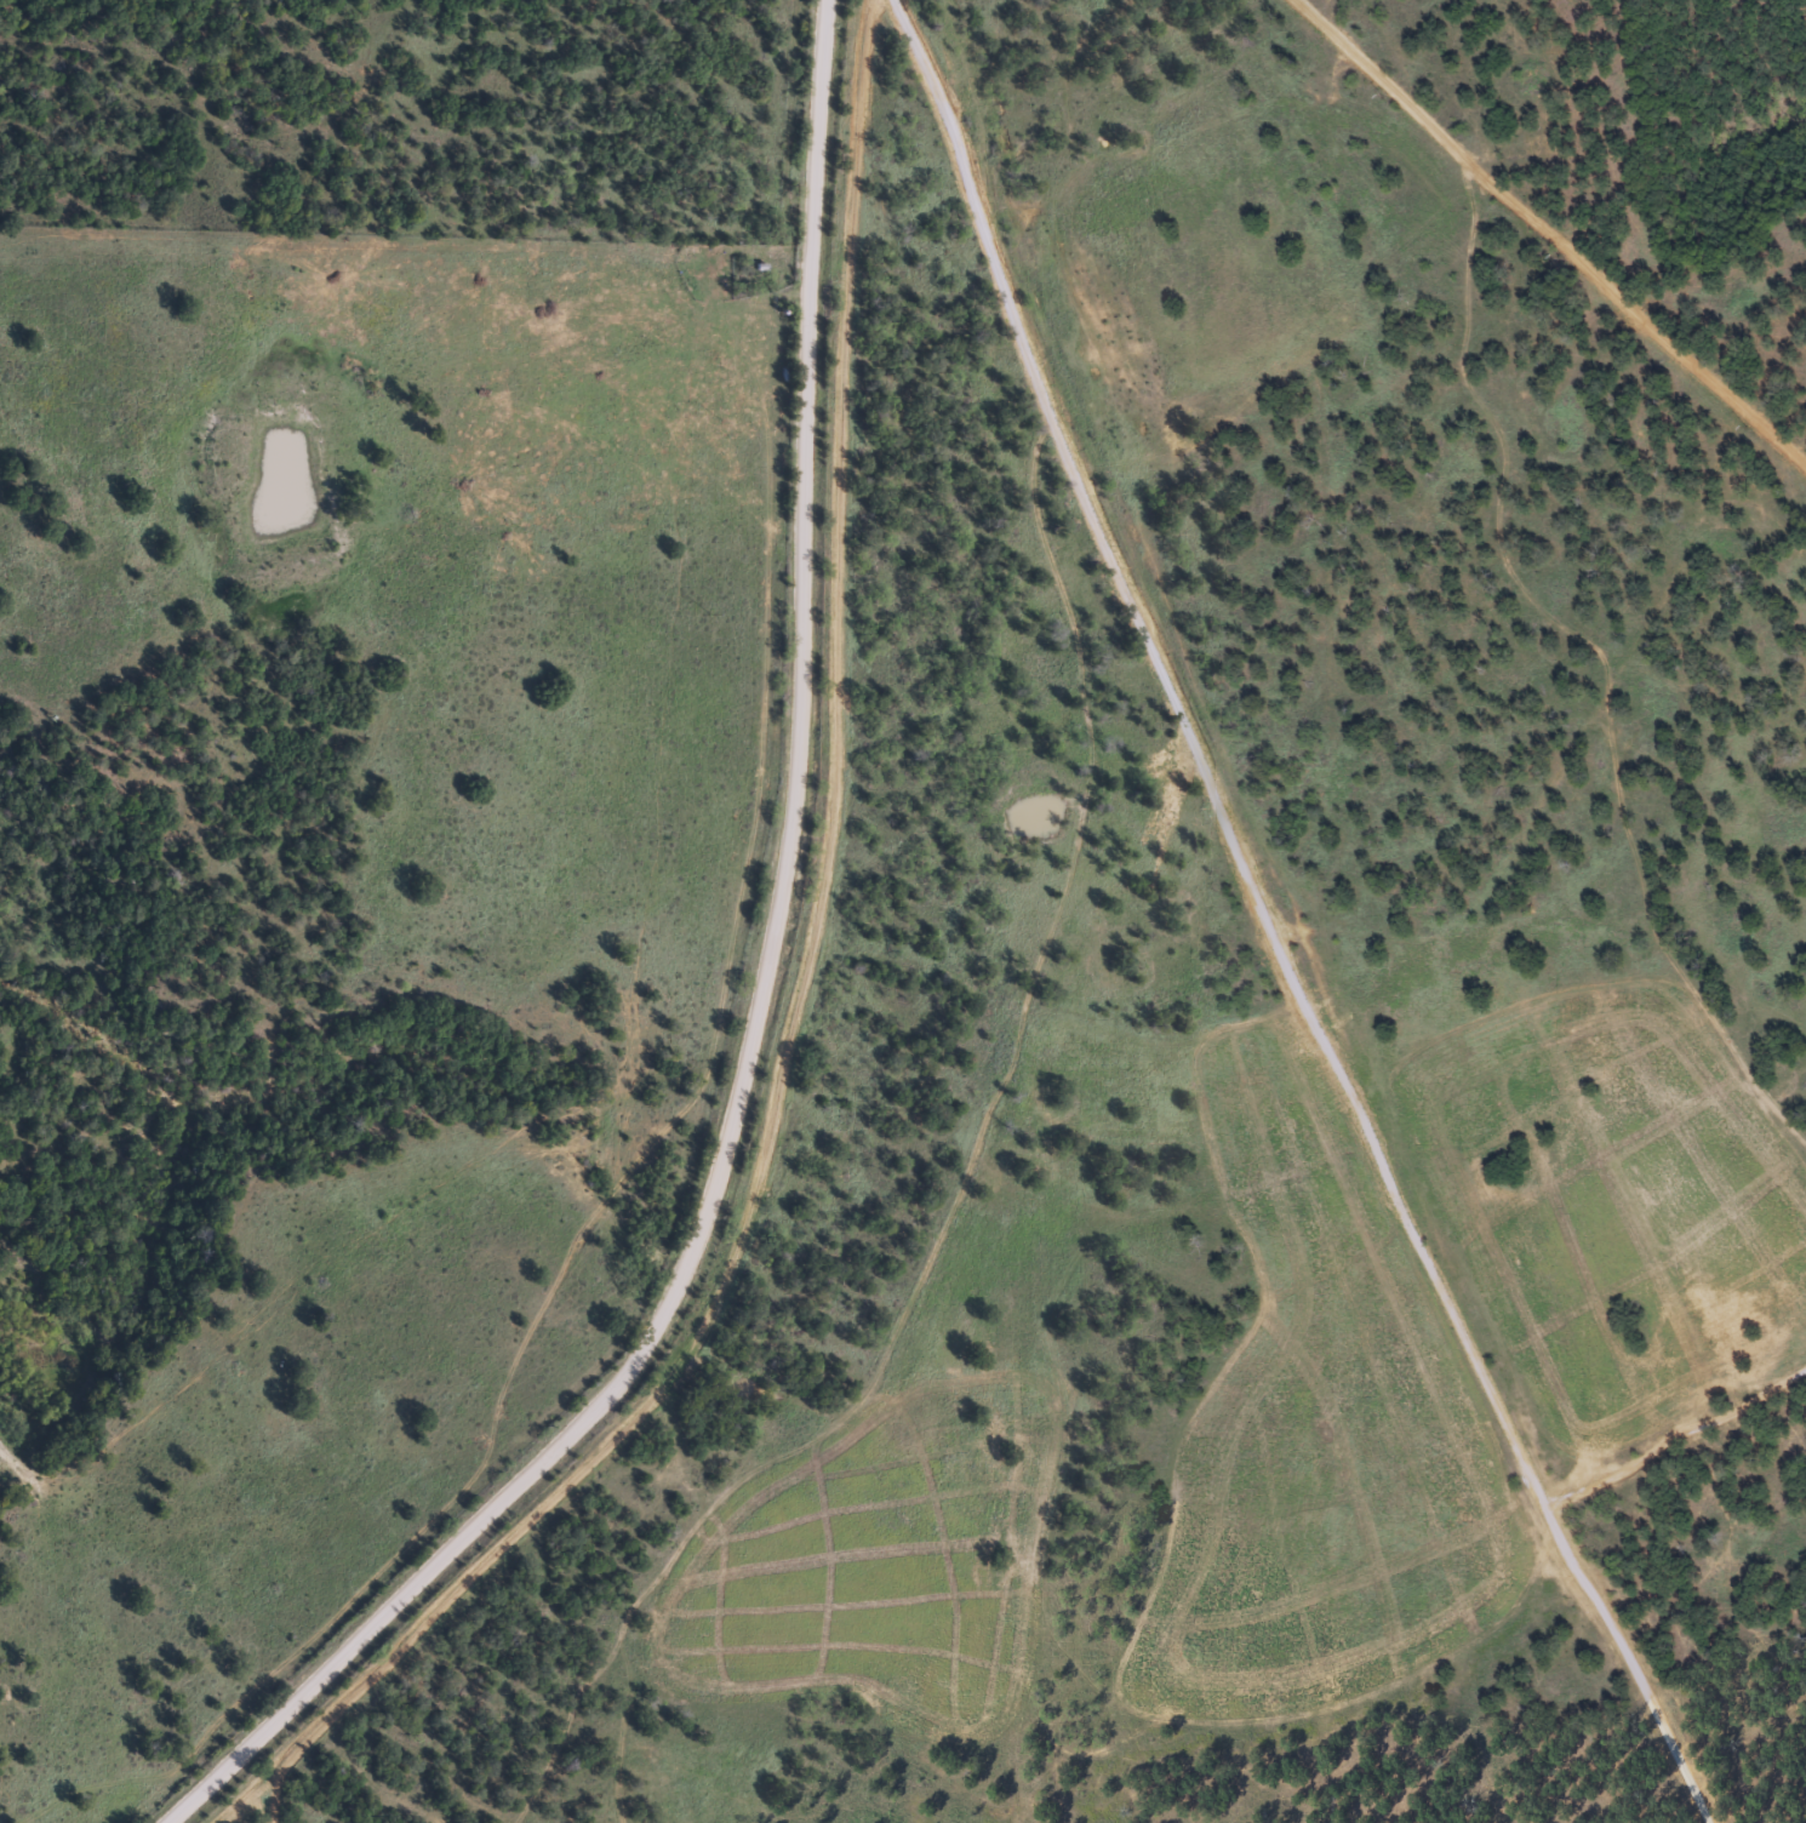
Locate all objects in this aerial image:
road: (1549, 235)
road: (1282, 922)
road: (761, 1019)
road: (646, 1142)

